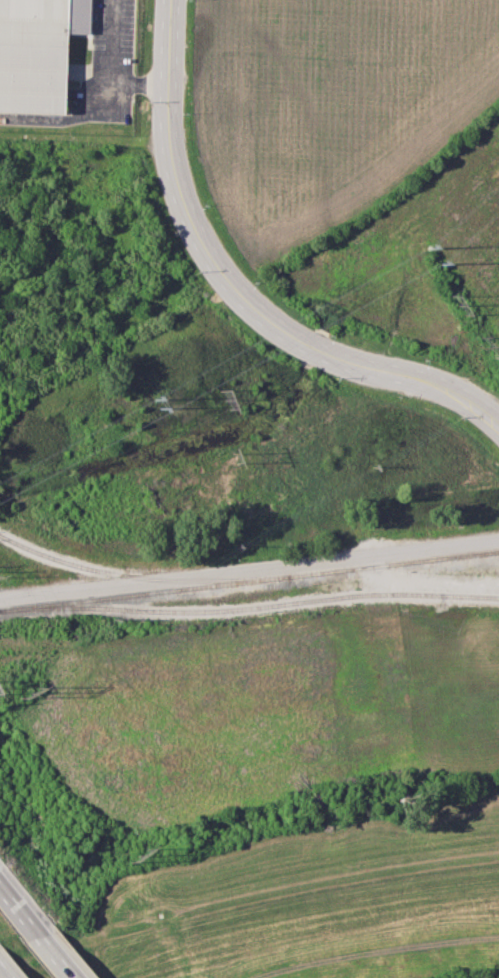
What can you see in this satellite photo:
building: (37, 51)
road: (106, 71)
crop: (357, 165)
power tower: (430, 248)
power tower: (441, 264)
road: (233, 285)
power tower: (455, 303)
power tower: (485, 340)
power tower: (156, 399)
power tower: (228, 405)
power tower: (161, 408)
power tower: (234, 455)
road: (249, 568)
railway: (140, 576)
railway: (249, 579)
railway: (249, 607)
power tower: (28, 692)
crop: (254, 710)
power tower: (136, 851)
road: (247, 902)
road: (11, 909)
road: (44, 950)
road: (3, 973)

